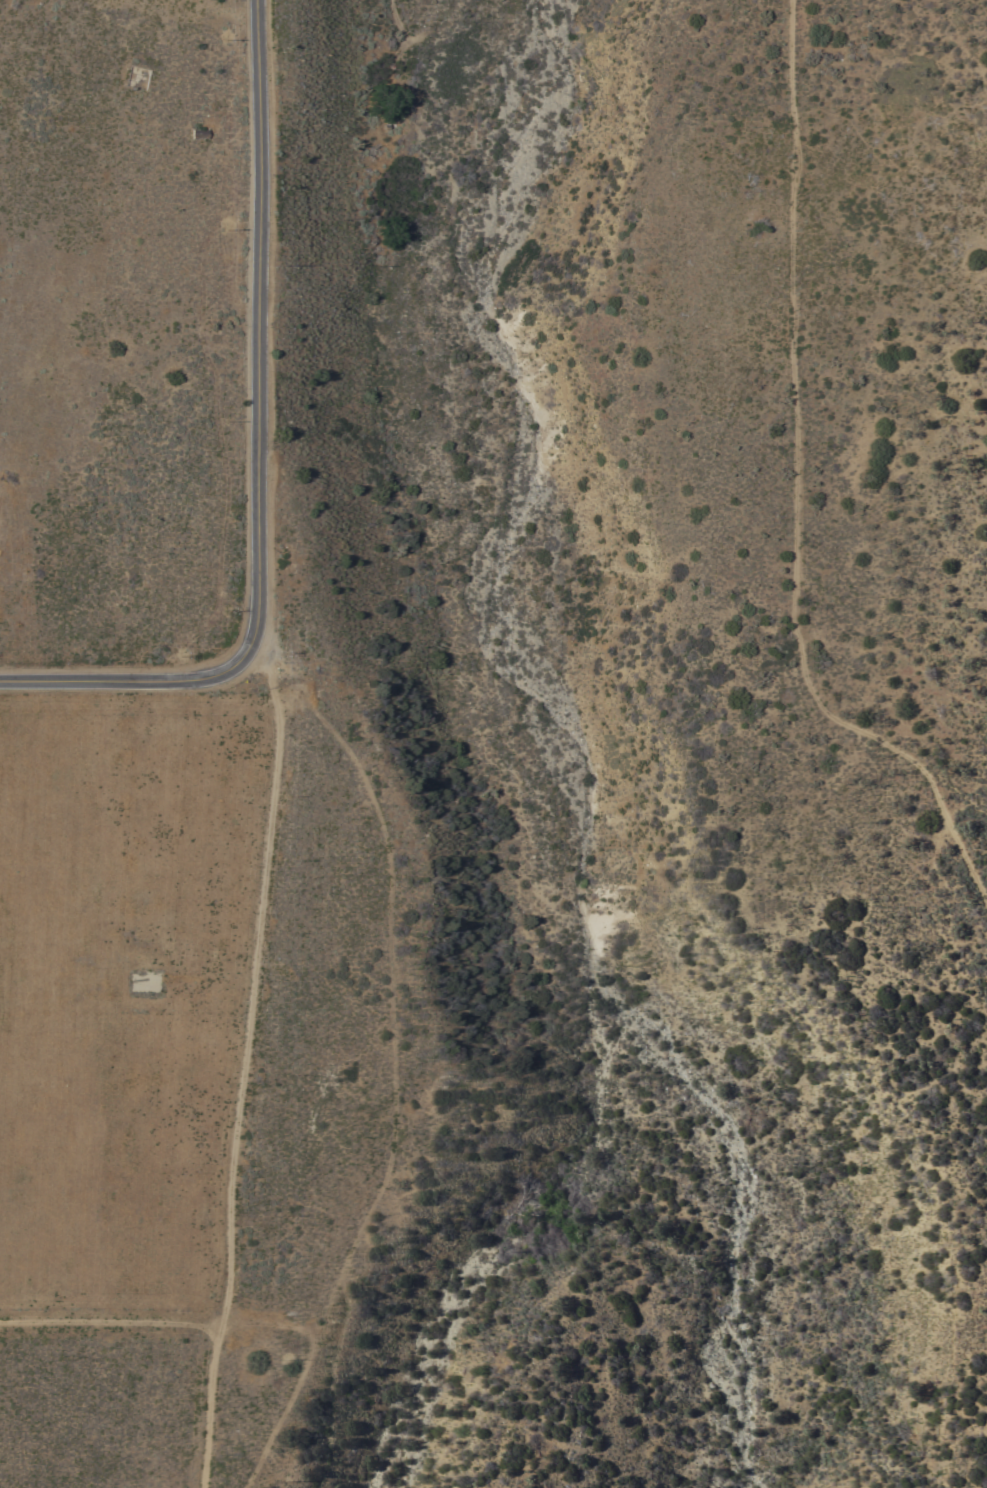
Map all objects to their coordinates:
road: (256, 329)
road: (795, 493)
road: (125, 679)
road: (249, 1065)
road: (396, 1086)
road: (113, 1322)
road: (274, 1322)

